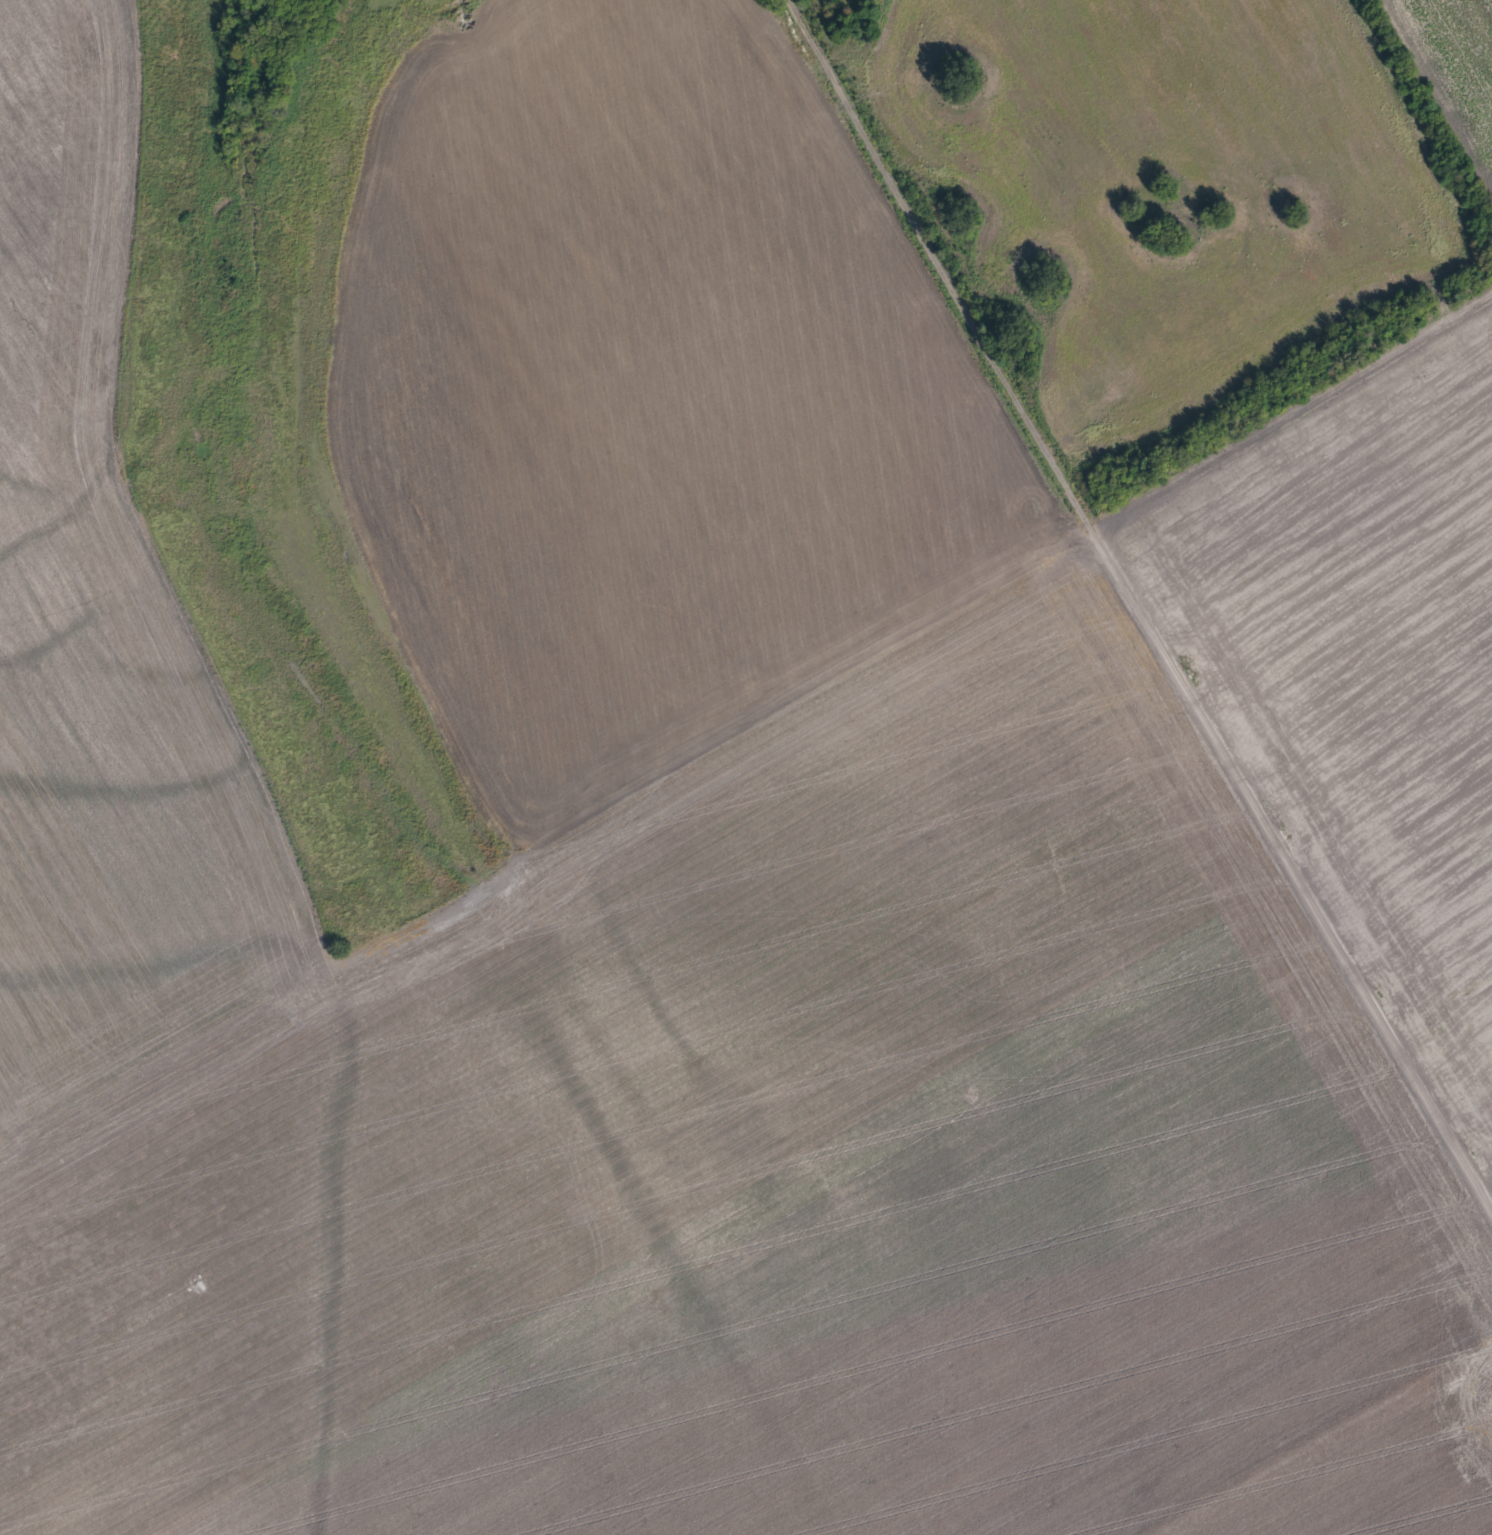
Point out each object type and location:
road: (1289, 390)
road: (1138, 601)

